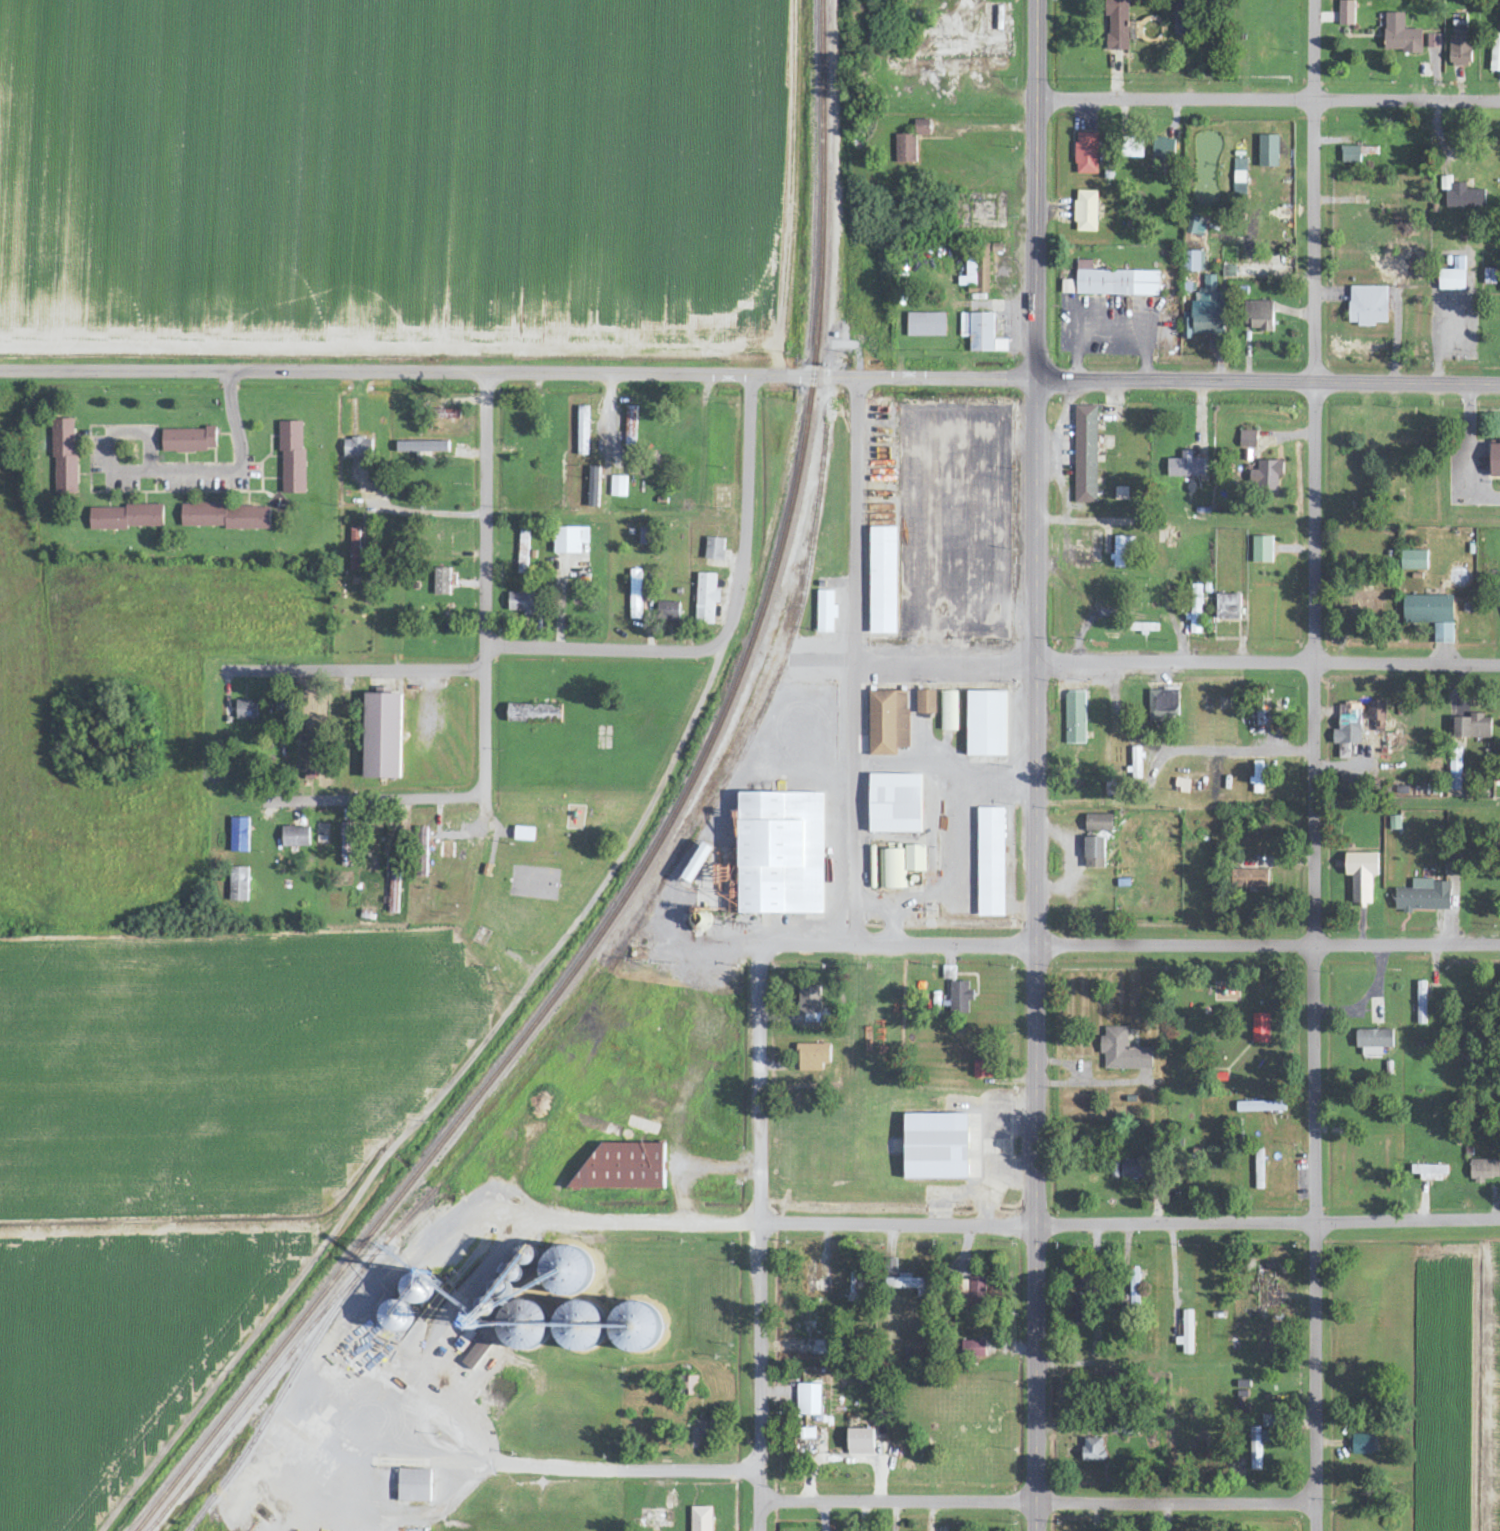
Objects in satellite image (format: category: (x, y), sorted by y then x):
building: (1346, 13)
building: (1180, 17)
building: (1117, 25)
building: (1401, 36)
building: (1433, 41)
building: (1460, 51)
building: (1495, 54)
road: (984, 66)
road: (1268, 100)
road: (986, 126)
building: (921, 128)
building: (1132, 148)
building: (905, 149)
building: (1163, 149)
building: (1369, 151)
building: (1268, 152)
building: (1087, 154)
building: (1351, 155)
building: (1239, 171)
road: (1037, 187)
building: (1461, 195)
building: (1086, 212)
building: (1196, 227)
building: (1194, 262)
building: (969, 273)
building: (1453, 277)
building: (1490, 277)
building: (1115, 282)
building: (1067, 287)
building: (1367, 306)
building: (1205, 312)
building: (1259, 316)
building: (926, 325)
building: (980, 333)
road: (128, 371)
road: (878, 373)
building: (630, 426)
building: (1247, 439)
building: (188, 440)
road: (486, 440)
road: (1037, 446)
building: (356, 447)
road: (1468, 448)
building: (64, 453)
building: (1085, 454)
building: (292, 457)
building: (1495, 458)
building: (1186, 465)
building: (1269, 474)
road: (207, 475)
building: (618, 486)
building: (593, 487)
road: (383, 503)
road: (745, 510)
building: (127, 517)
building: (223, 517)
building: (882, 519)
road: (1082, 519)
building: (643, 536)
building: (569, 539)
building: (354, 548)
building: (714, 548)
building: (1262, 549)
building: (523, 551)
building: (1120, 552)
building: (1413, 560)
road: (486, 575)
building: (441, 581)
road: (1037, 590)
building: (635, 594)
building: (705, 598)
building: (522, 603)
building: (1228, 606)
building: (1195, 609)
building: (668, 611)
building: (825, 612)
building: (1431, 614)
road: (1173, 616)
road: (605, 647)
road: (486, 653)
road: (722, 658)
road: (855, 658)
road: (914, 658)
road: (1268, 663)
road: (343, 666)
building: (925, 702)
building: (1163, 705)
building: (245, 709)
building: (949, 711)
building: (533, 713)
building: (1377, 714)
building: (1074, 717)
building: (888, 722)
road: (233, 723)
building: (986, 723)
road: (486, 727)
building: (1472, 727)
building: (1348, 729)
building: (380, 735)
road: (1237, 749)
road: (1315, 750)
building: (1136, 763)
building: (1455, 769)
building: (1257, 777)
road: (380, 797)
building: (894, 803)
road: (1038, 804)
building: (1098, 823)
building: (1395, 823)
building: (523, 834)
building: (238, 835)
building: (295, 836)
railway: (660, 839)
building: (779, 853)
building: (1094, 853)
building: (914, 858)
building: (990, 862)
building: (696, 863)
building: (1452, 866)
building: (892, 869)
building: (1361, 875)
building: (1249, 878)
building: (238, 884)
building: (1424, 896)
road: (845, 943)
road: (1406, 943)
road: (1175, 944)
building: (948, 973)
building: (957, 997)
building: (1421, 1003)
building: (809, 1004)
park: (1242, 1015)
building: (1261, 1028)
road: (488, 1034)
building: (1373, 1041)
building: (1122, 1052)
building: (813, 1056)
building: (982, 1069)
building: (1260, 1106)
railway: (495, 1112)
building: (935, 1147)
building: (623, 1166)
building: (1132, 1169)
building: (1259, 1169)
building: (1484, 1170)
building: (1429, 1172)
road: (759, 1204)
road: (768, 1220)
road: (1269, 1221)
road: (1038, 1238)
building: (891, 1267)
building: (561, 1271)
building: (908, 1284)
building: (1134, 1286)
building: (1266, 1286)
building: (852, 1287)
building: (973, 1292)
building: (1079, 1309)
building: (583, 1327)
building: (1186, 1333)
building: (973, 1349)
building: (475, 1354)
crop: (1457, 1387)
building: (808, 1400)
railway: (241, 1414)
building: (860, 1442)
building: (1362, 1445)
building: (1258, 1446)
building: (1092, 1450)
road: (583, 1466)
road: (757, 1481)
building: (413, 1486)
road: (897, 1497)
road: (1177, 1500)
road: (756, 1513)
road: (1317, 1516)
building: (701, 1519)

